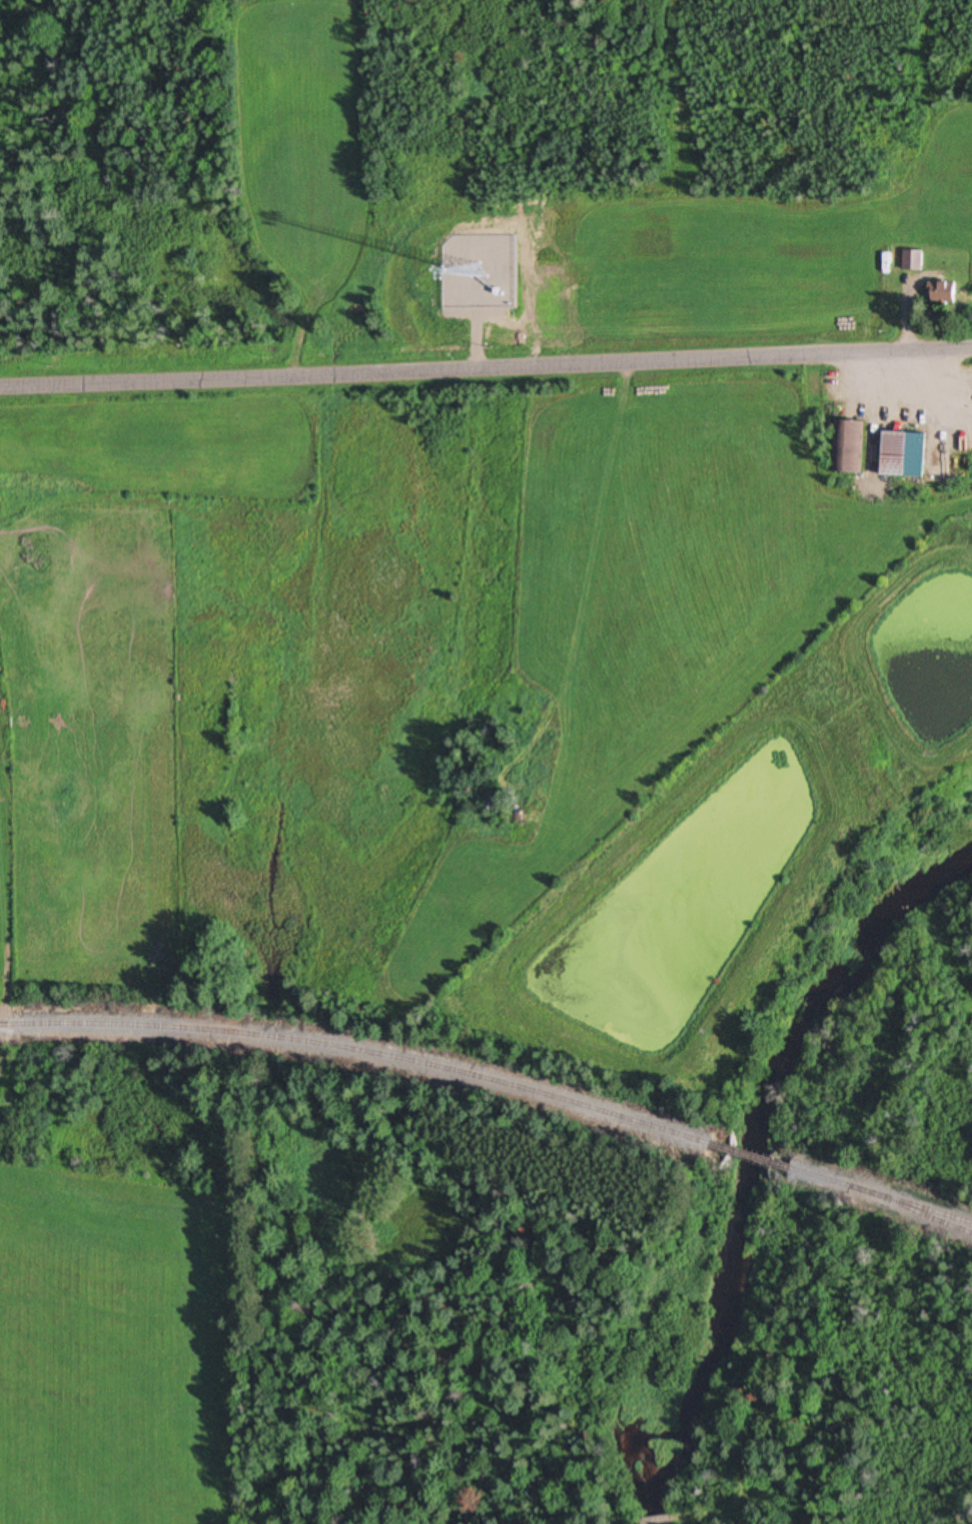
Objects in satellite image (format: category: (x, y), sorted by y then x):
crop: (516, 240)
building: (917, 262)
building: (947, 295)
road: (485, 366)
building: (858, 447)
building: (904, 454)
building: (495, 804)
river: (906, 898)
road: (7, 959)
river: (852, 972)
railway: (365, 1051)
railway: (758, 1158)
railway: (884, 1196)
railway: (911, 1209)
river: (729, 1249)
crop: (113, 1346)

